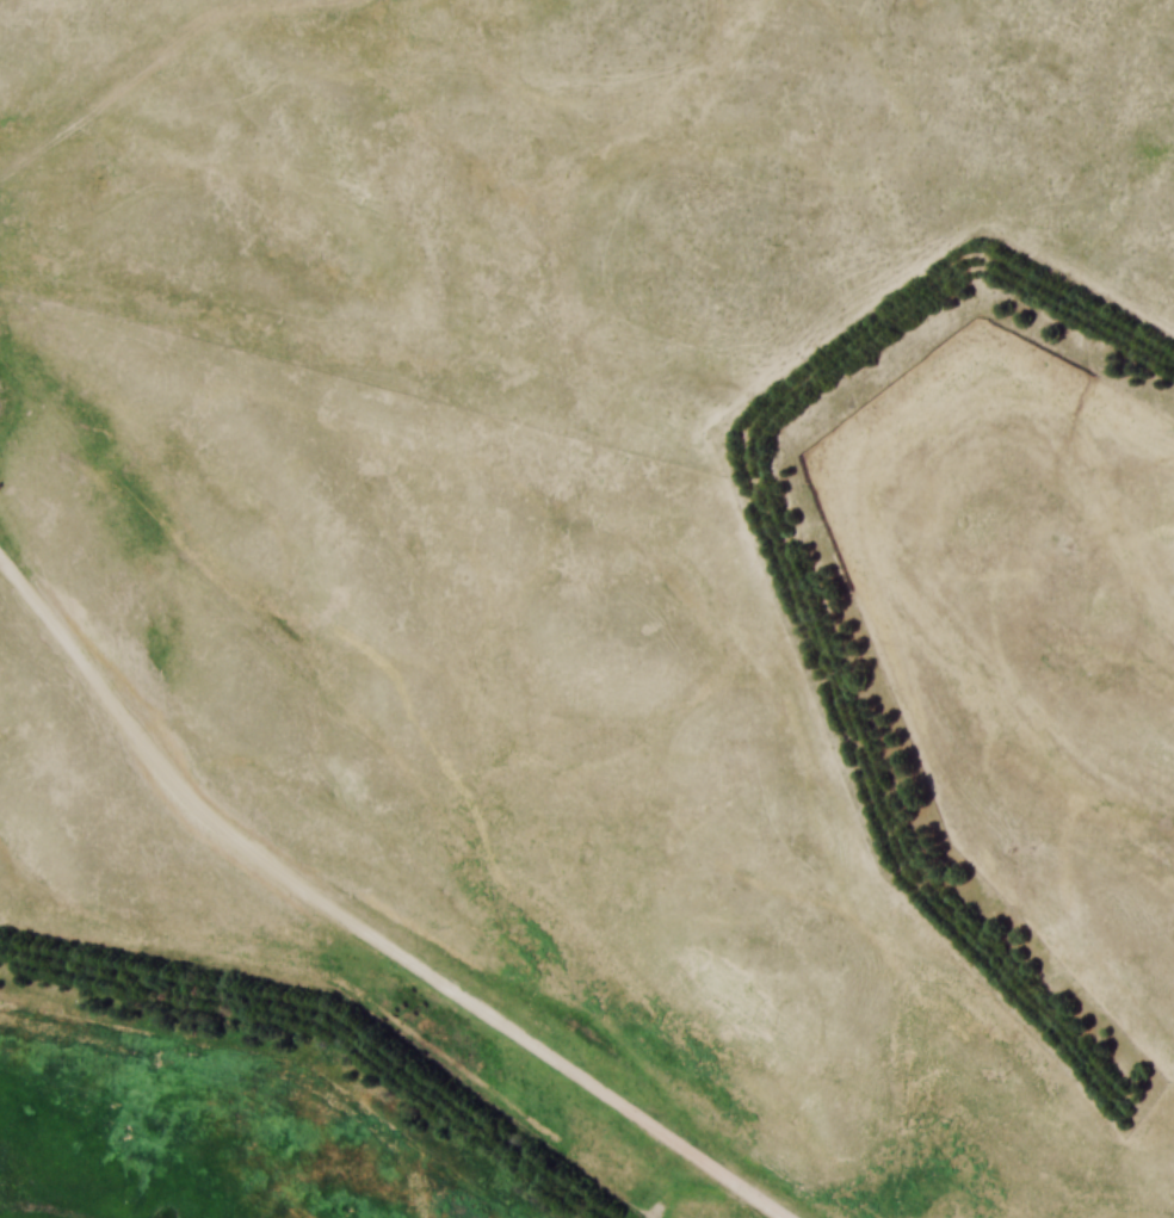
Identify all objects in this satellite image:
road: (366, 939)

